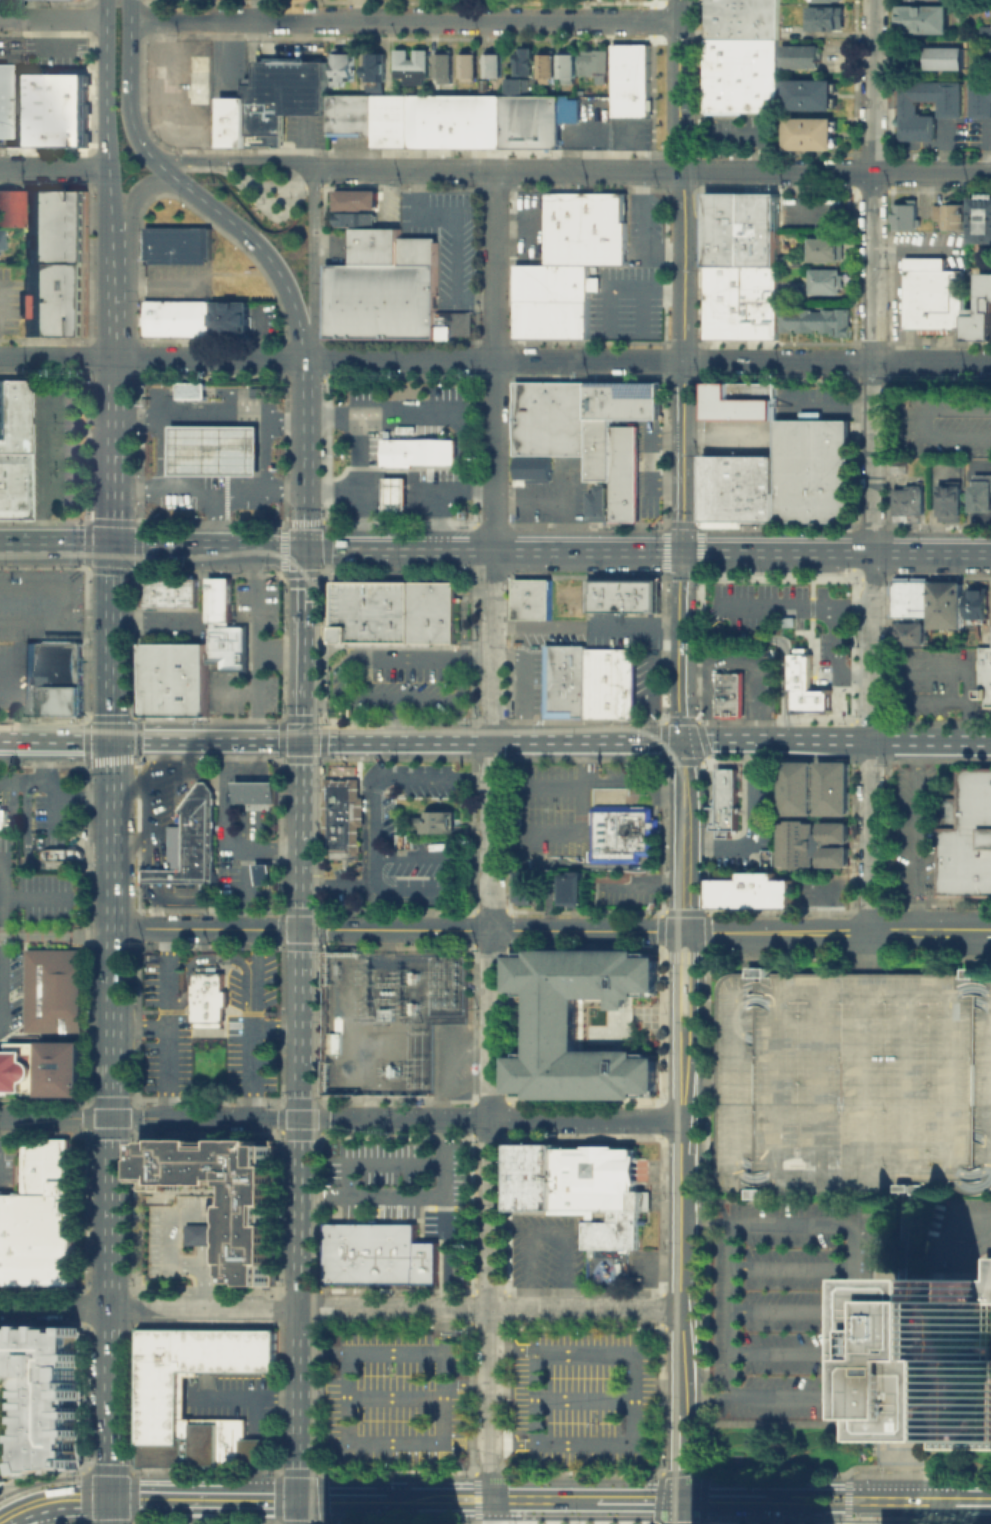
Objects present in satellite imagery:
building: (830, 2)
building: (925, 2)
road: (257, 9)
road: (53, 18)
road: (404, 19)
building: (829, 21)
building: (744, 22)
building: (928, 23)
building: (985, 30)
road: (51, 32)
building: (589, 58)
building: (466, 59)
building: (523, 59)
building: (491, 61)
building: (563, 61)
building: (803, 61)
building: (442, 62)
building: (948, 62)
building: (340, 63)
building: (543, 63)
building: (374, 64)
building: (411, 64)
building: (194, 76)
building: (627, 78)
road: (131, 80)
building: (744, 80)
building: (515, 82)
road: (164, 83)
road: (872, 86)
building: (279, 94)
building: (590, 95)
building: (814, 100)
building: (983, 103)
building: (46, 107)
building: (572, 110)
building: (346, 113)
building: (954, 113)
building: (386, 119)
building: (453, 119)
building: (529, 119)
building: (228, 120)
road: (106, 130)
building: (812, 139)
road: (232, 157)
road: (54, 167)
road: (165, 169)
road: (592, 170)
road: (931, 172)
road: (803, 197)
road: (132, 204)
building: (10, 208)
parking lot: (811, 208)
building: (371, 209)
road: (417, 209)
building: (952, 218)
building: (908, 219)
building: (981, 222)
building: (54, 226)
building: (587, 232)
road: (641, 232)
parking lot: (449, 240)
parking lot: (648, 243)
building: (174, 244)
building: (825, 247)
road: (265, 255)
road: (453, 259)
building: (785, 259)
road: (314, 264)
building: (741, 264)
road: (872, 266)
road: (684, 276)
building: (825, 280)
parking lot: (174, 282)
building: (391, 289)
building: (932, 294)
building: (54, 300)
road: (473, 301)
parking lot: (10, 304)
building: (554, 304)
building: (981, 312)
building: (174, 317)
building: (226, 318)
building: (815, 319)
road: (116, 338)
road: (495, 359)
road: (307, 388)
building: (191, 392)
building: (624, 399)
building: (741, 399)
road: (830, 402)
parking lot: (403, 411)
road: (419, 416)
building: (551, 416)
road: (211, 417)
road: (922, 424)
parking lot: (946, 424)
road: (664, 434)
building: (12, 450)
parking lot: (55, 450)
building: (217, 451)
gas station: (217, 451)
building: (418, 452)
road: (161, 453)
road: (265, 454)
building: (615, 463)
building: (899, 465)
building: (531, 467)
building: (812, 469)
road: (895, 479)
road: (116, 481)
road: (307, 482)
road: (356, 482)
building: (759, 487)
road: (211, 490)
road: (400, 490)
building: (721, 490)
parking lot: (556, 491)
building: (982, 492)
building: (395, 493)
gas station: (395, 493)
building: (951, 499)
road: (967, 499)
road: (531, 500)
building: (599, 501)
building: (908, 502)
road: (933, 503)
road: (568, 505)
building: (981, 516)
road: (216, 519)
road: (438, 519)
traffic signals: (115, 545)
road: (152, 546)
traffic signals: (306, 547)
road: (367, 547)
road: (555, 552)
traffic signals: (683, 553)
road: (837, 553)
road: (326, 559)
road: (314, 572)
road: (202, 581)
building: (170, 591)
building: (623, 595)
building: (910, 597)
building: (219, 598)
building: (532, 598)
parking lot: (258, 599)
road: (795, 603)
building: (946, 603)
building: (977, 603)
road: (325, 607)
road: (463, 609)
parking lot: (783, 609)
building: (395, 610)
road: (159, 619)
road: (637, 622)
parking lot: (36, 624)
road: (550, 625)
parking lot: (174, 632)
building: (911, 633)
building: (227, 636)
road: (777, 636)
road: (837, 636)
parking lot: (542, 637)
parking lot: (623, 637)
road: (256, 642)
road: (304, 642)
road: (409, 644)
road: (683, 646)
road: (871, 646)
road: (129, 650)
road: (280, 650)
road: (368, 650)
road: (478, 657)
railway: (326, 658)
building: (229, 659)
road: (186, 660)
building: (985, 663)
road: (955, 664)
building: (160, 671)
building: (186, 672)
parking lot: (186, 672)
parking lot: (527, 679)
building: (565, 679)
building: (55, 681)
road: (325, 681)
building: (610, 681)
road: (525, 682)
parking lot: (640, 683)
road: (650, 683)
parking lot: (933, 683)
building: (805, 685)
parking lot: (392, 687)
parking lot: (243, 690)
road: (235, 692)
road: (352, 692)
parking lot: (763, 692)
building: (985, 692)
building: (728, 693)
road: (709, 696)
road: (919, 698)
building: (160, 700)
railway: (328, 716)
road: (314, 717)
road: (397, 717)
road: (361, 719)
road: (186, 725)
road: (324, 729)
road: (209, 737)
road: (57, 738)
traffic signals: (115, 738)
traffic signals: (304, 739)
road: (493, 739)
traffic signals: (684, 739)
road: (837, 739)
road: (756, 748)
road: (186, 750)
road: (47, 758)
road: (379, 759)
road: (255, 765)
road: (436, 779)
road: (590, 779)
road: (130, 785)
building: (797, 786)
building: (833, 787)
road: (55, 790)
building: (256, 791)
parking lot: (4, 794)
railway: (681, 797)
road: (145, 798)
road: (655, 798)
road: (225, 801)
building: (725, 802)
parking lot: (551, 803)
road: (115, 804)
parking lot: (165, 811)
road: (374, 816)
building: (4, 818)
building: (347, 819)
parking lot: (55, 820)
parking lot: (751, 821)
building: (441, 824)
road: (655, 824)
road: (577, 830)
building: (622, 831)
road: (492, 834)
road: (687, 835)
parking lot: (916, 835)
building: (192, 840)
building: (813, 843)
road: (131, 844)
building: (971, 847)
parking lot: (409, 848)
building: (64, 853)
road: (433, 855)
road: (533, 856)
road: (32, 860)
road: (249, 862)
road: (582, 862)
road: (374, 869)
building: (263, 873)
road: (145, 875)
road: (640, 880)
road: (338, 884)
building: (525, 886)
building: (573, 887)
road: (432, 889)
parking lot: (628, 889)
building: (752, 890)
parking lot: (820, 890)
railway: (315, 891)
parking lot: (31, 893)
road: (150, 893)
road: (36, 897)
road: (820, 908)
road: (155, 917)
traffic signals: (303, 929)
road: (492, 930)
road: (930, 932)
road: (57, 936)
road: (2, 946)
road: (683, 953)
road: (684, 958)
road: (673, 972)
road: (693, 972)
road: (255, 978)
parking lot: (13, 995)
building: (56, 995)
building: (212, 1005)
parking lot: (254, 1005)
railway: (680, 1013)
power substation: (388, 1017)
building: (554, 1019)
road: (169, 1022)
road: (141, 1026)
building: (340, 1040)
road: (253, 1047)
road: (689, 1067)
road: (673, 1068)
building: (42, 1070)
building: (851, 1082)
parking lot: (851, 1082)
road: (113, 1090)
traffic signals: (113, 1117)
traffic signals: (302, 1118)
road: (340, 1118)
road: (302, 1131)
road: (382, 1162)
parking lot: (12, 1168)
road: (445, 1182)
road: (113, 1185)
building: (580, 1189)
parking lot: (406, 1196)
road: (374, 1197)
building: (911, 1202)
building: (251, 1206)
road: (986, 1218)
building: (41, 1219)
road: (206, 1220)
road: (169, 1223)
building: (174, 1228)
parking lot: (174, 1228)
building: (204, 1233)
road: (209, 1233)
parking lot: (957, 1233)
road: (945, 1248)
parking lot: (547, 1251)
road: (206, 1254)
building: (381, 1257)
road: (186, 1264)
road: (790, 1267)
parking lot: (643, 1268)
road: (445, 1277)
building: (904, 1279)
road: (113, 1280)
road: (203, 1285)
road: (851, 1306)
road: (340, 1307)
road: (730, 1308)
road: (681, 1309)
road: (790, 1309)
parking lot: (791, 1309)
road: (320, 1315)
road: (790, 1352)
road: (112, 1363)
building: (946, 1364)
road: (319, 1381)
building: (47, 1389)
fountain: (7, 1396)
building: (162, 1396)
parking lot: (235, 1400)
parking lot: (394, 1400)
parking lot: (586, 1402)
railway: (321, 1447)
park: (792, 1450)
road: (319, 1455)
road: (112, 1458)
road: (310, 1471)
building: (3, 1476)
road: (323, 1484)
road: (466, 1491)
road: (830, 1491)
traffic signals: (111, 1497)
road: (205, 1497)
traffic signals: (300, 1498)
road: (344, 1498)
road: (416, 1498)
road: (479, 1498)
road: (53, 1499)
road: (530, 1499)
road: (584, 1499)
road: (640, 1499)
traffic signals: (683, 1499)
road: (735, 1499)
road: (899, 1500)
road: (942, 1501)
road: (974, 1501)
road: (466, 1506)
road: (830, 1507)
road: (850, 1507)
road: (111, 1510)
road: (490, 1511)
road: (682, 1511)
road: (704, 1511)
road: (40, 1514)

